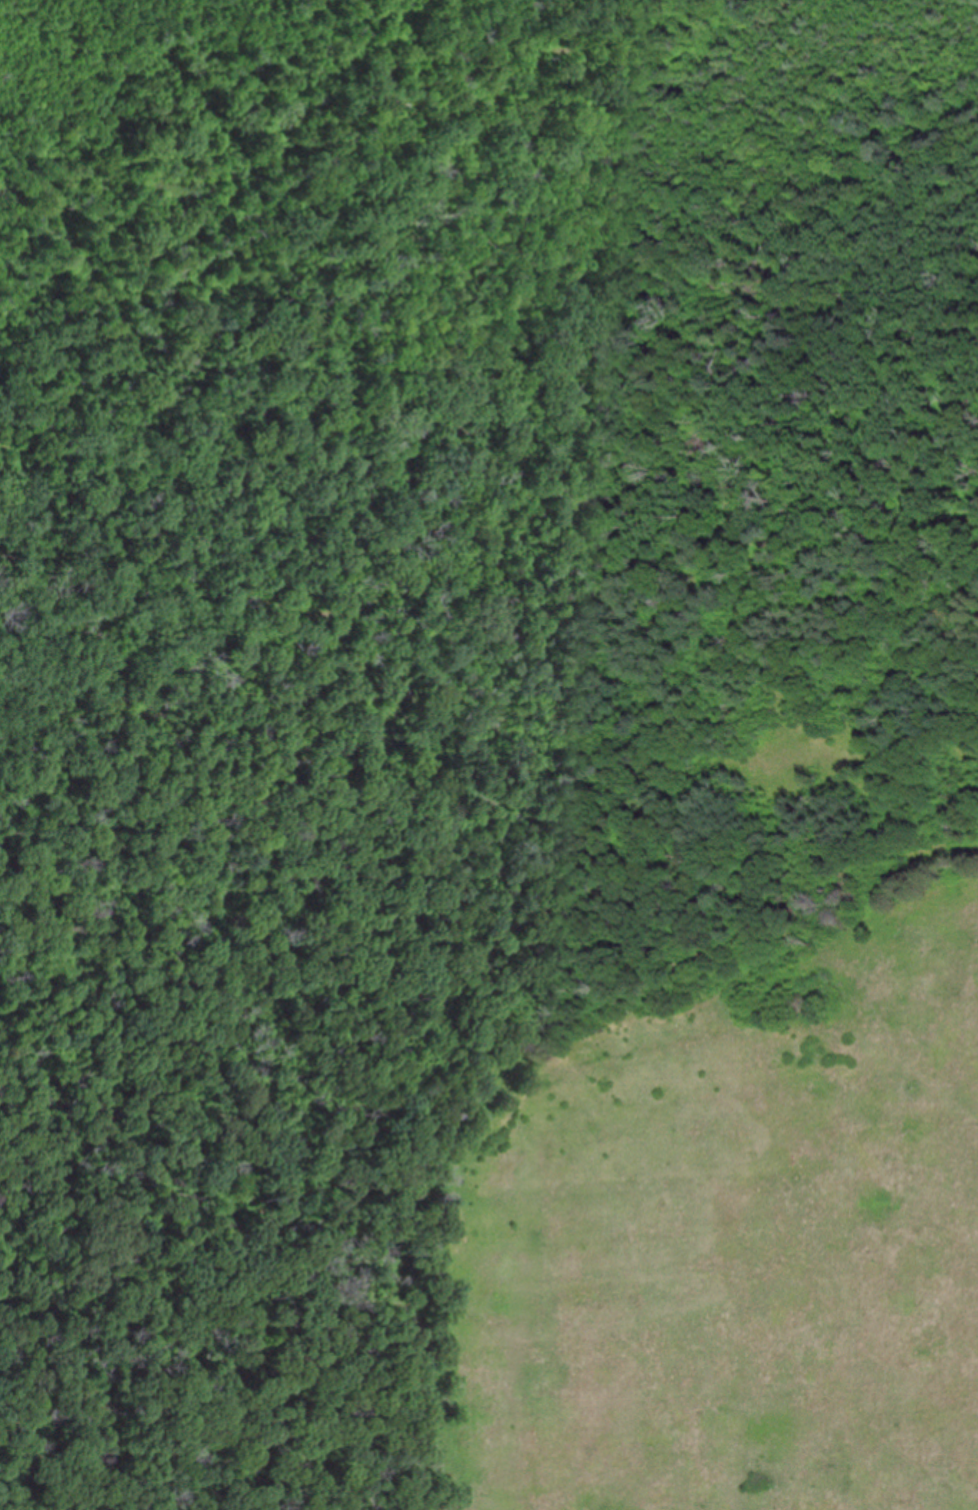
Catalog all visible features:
road: (322, 640)
park: (489, 755)

